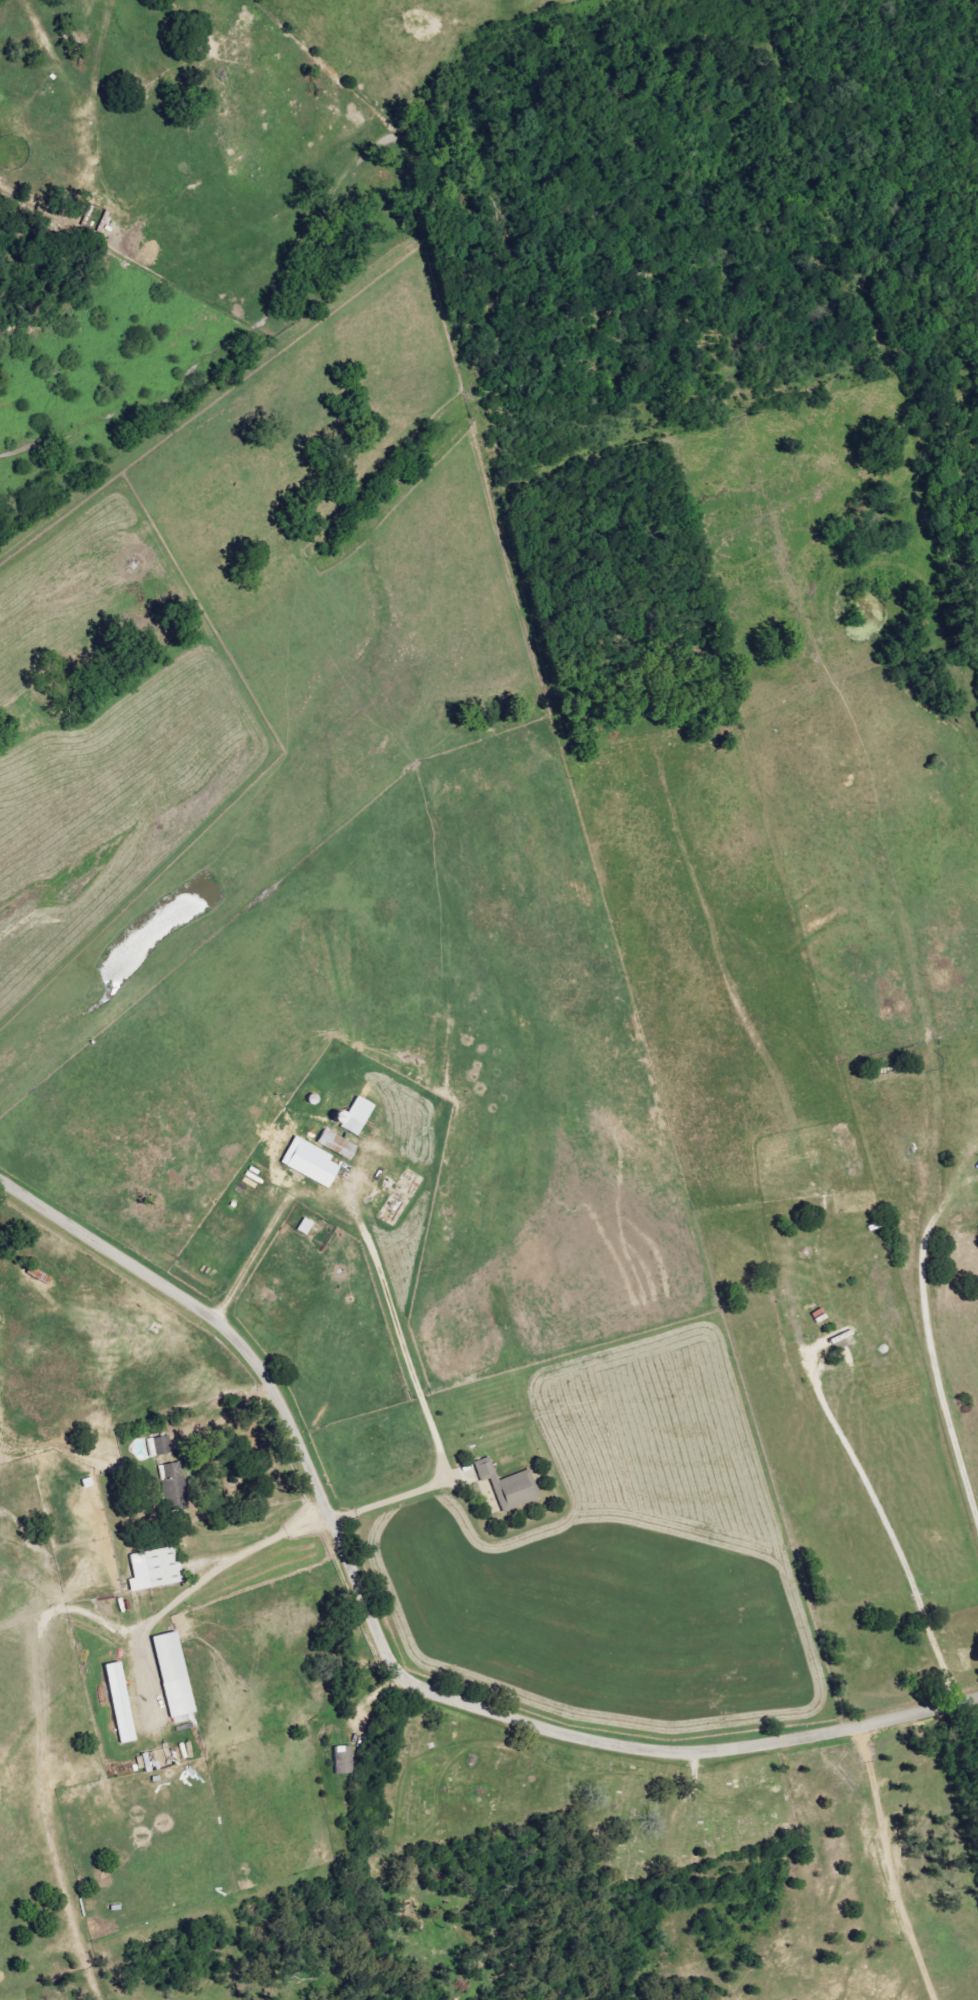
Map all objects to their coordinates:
building: (356, 1116)
building: (338, 1145)
building: (311, 1162)
road: (935, 1348)
building: (161, 1446)
building: (174, 1479)
building: (510, 1486)
road: (885, 1519)
building: (156, 1570)
road: (45, 1646)
road: (386, 1646)
building: (175, 1675)
building: (121, 1703)
building: (165, 1758)
building: (344, 1760)
park: (528, 1793)
road: (894, 1863)

